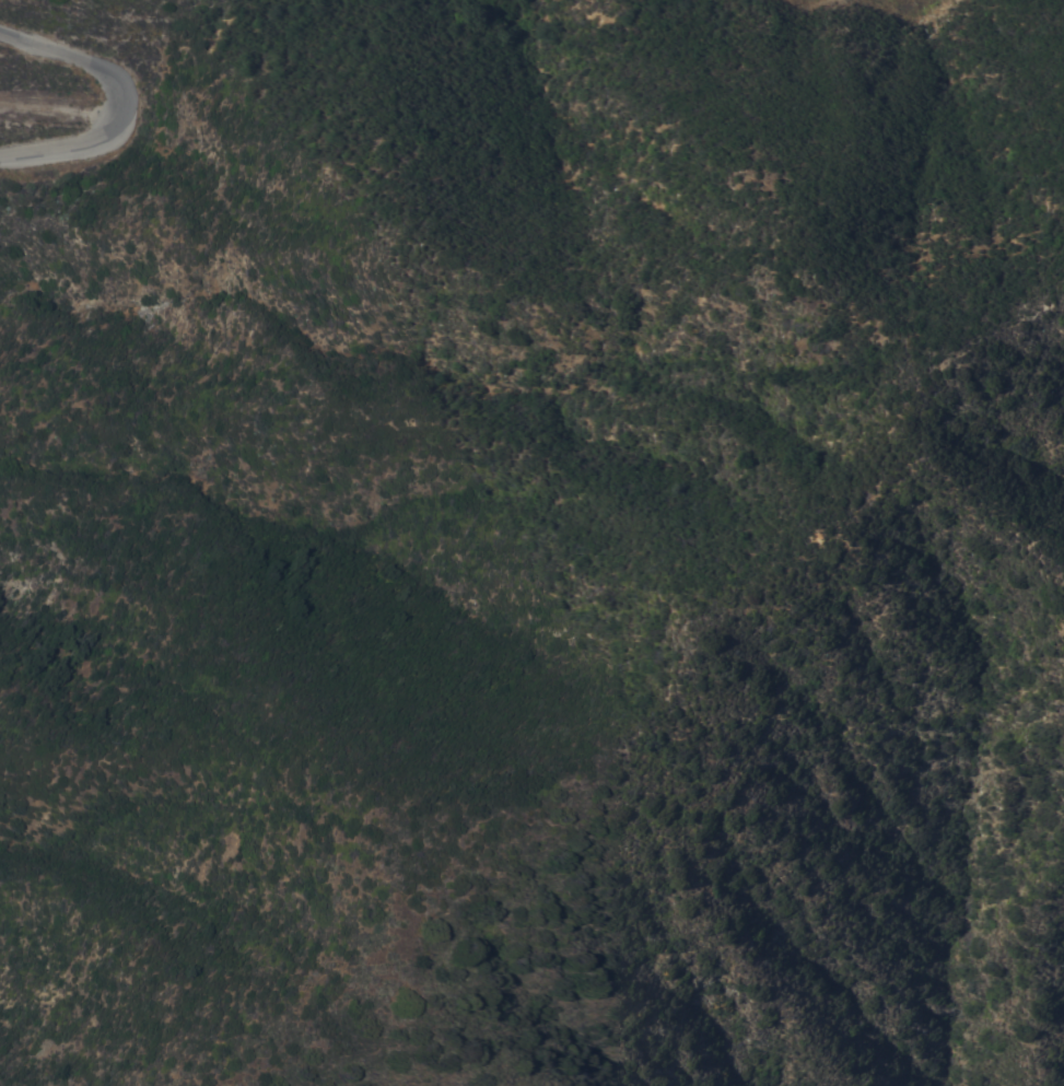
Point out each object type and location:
road: (113, 106)

